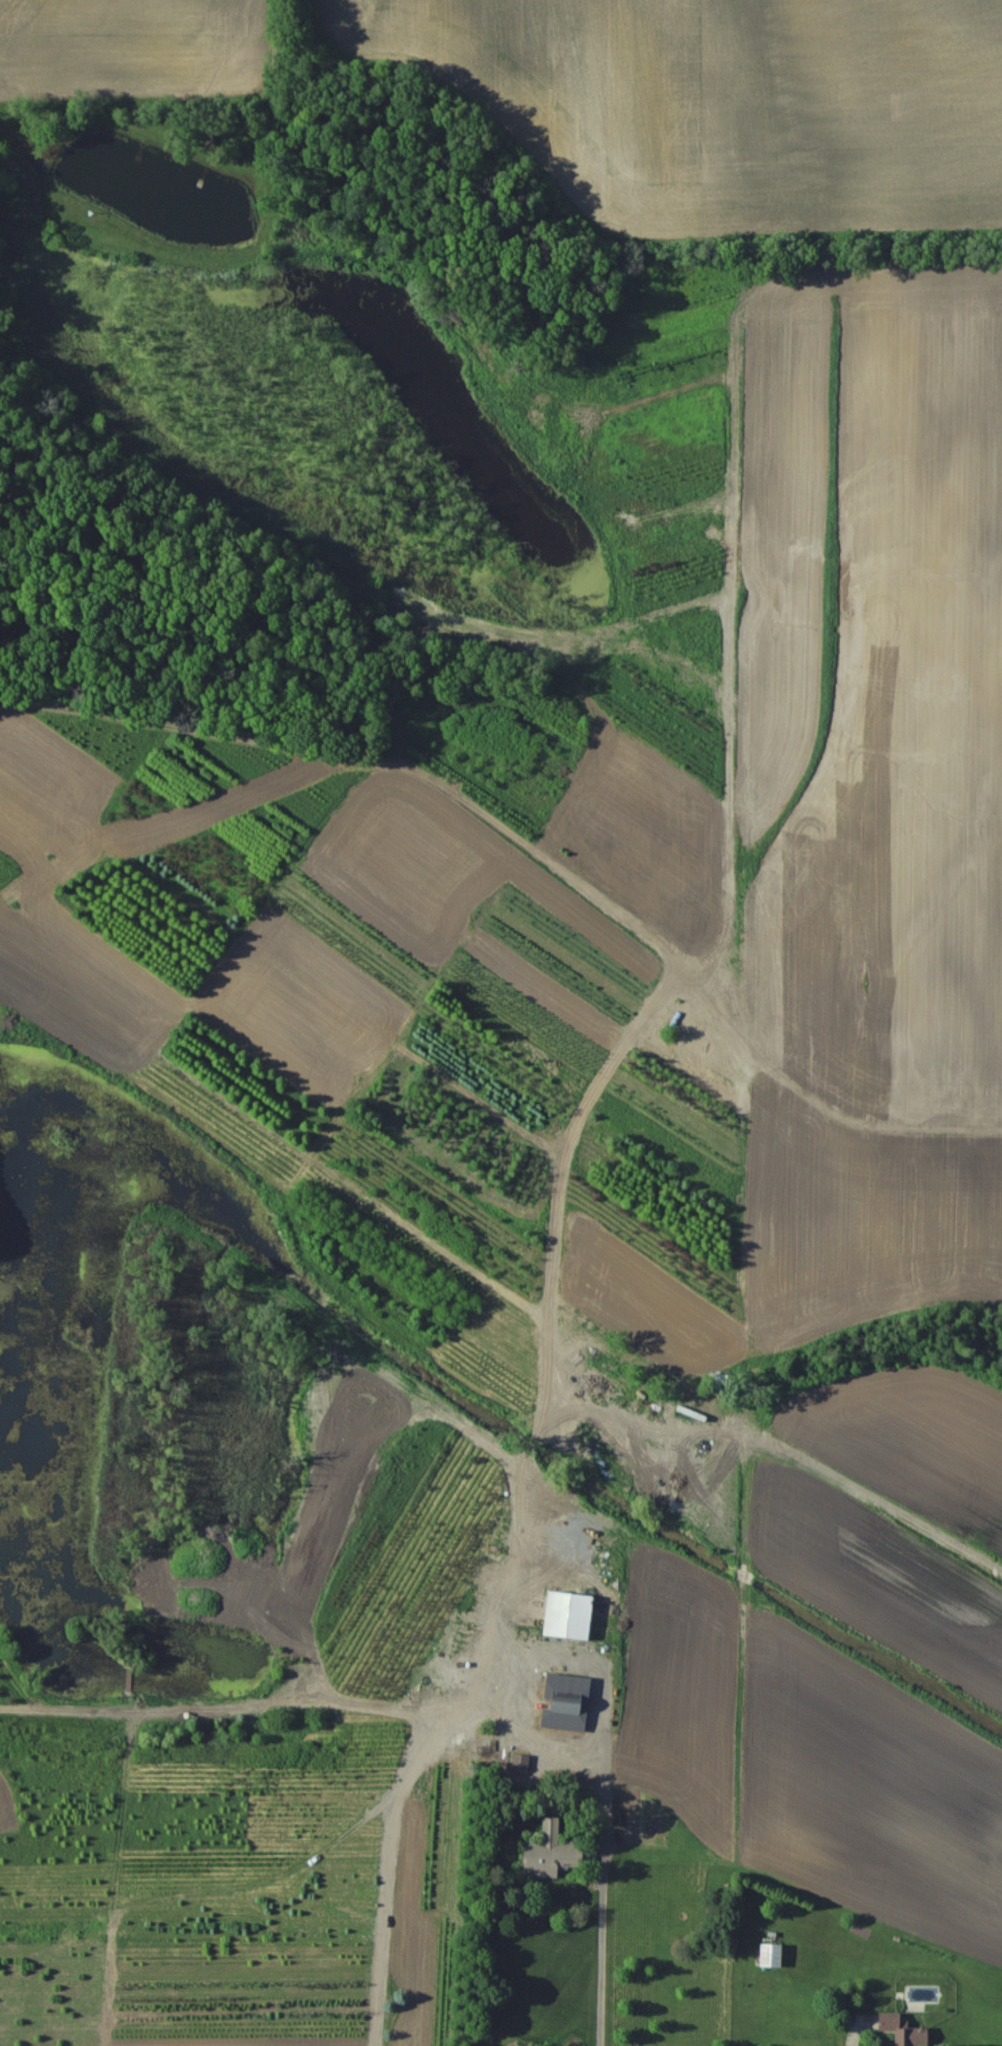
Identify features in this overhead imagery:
road: (514, 1562)
building: (568, 1616)
building: (566, 1702)
building: (520, 1762)
road: (605, 1779)
building: (549, 1853)
road: (388, 1926)
building: (770, 1955)
building: (900, 2030)

